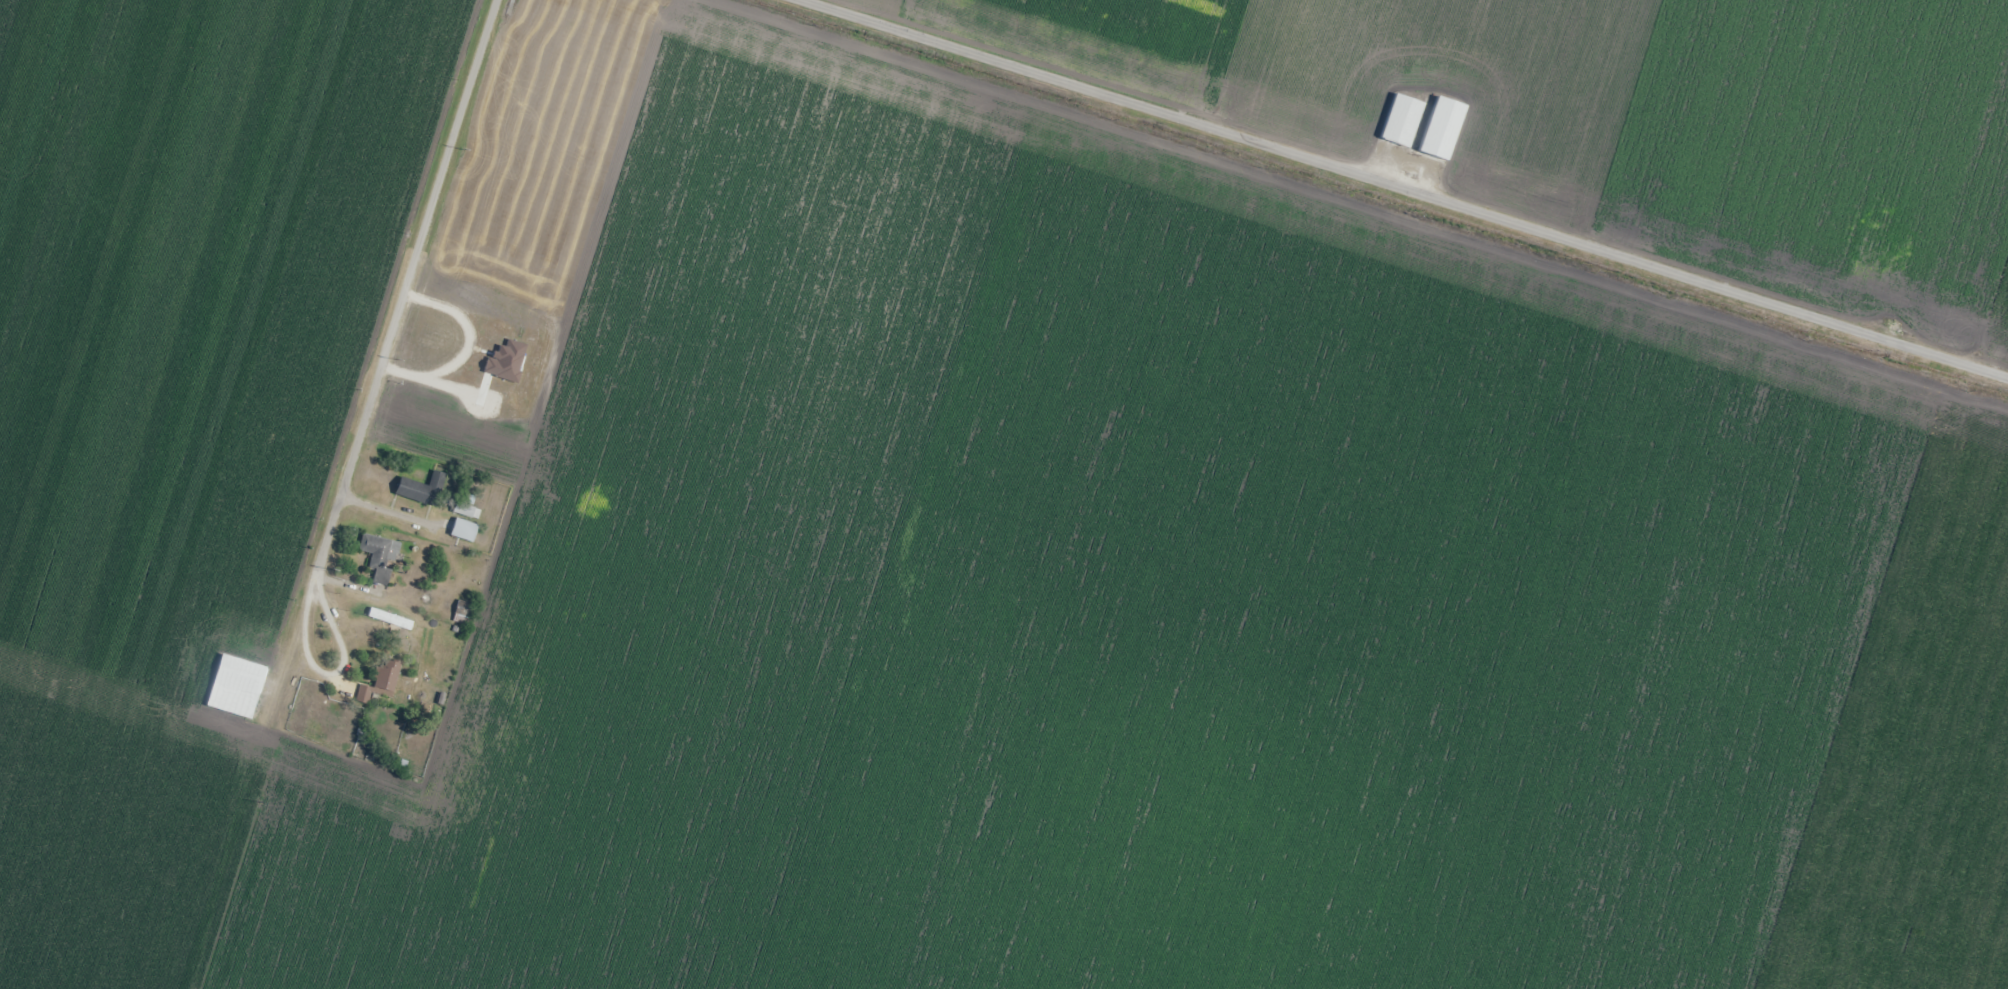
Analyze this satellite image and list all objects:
building: (1397, 121)
building: (1437, 129)
road: (1434, 180)
building: (583, 272)
building: (418, 489)
road: (370, 497)
building: (463, 510)
building: (459, 530)
building: (376, 556)
road: (377, 658)
building: (378, 681)
building: (231, 686)
building: (606, 716)
building: (535, 789)
building: (585, 891)
building: (412, 968)
building: (524, 988)

